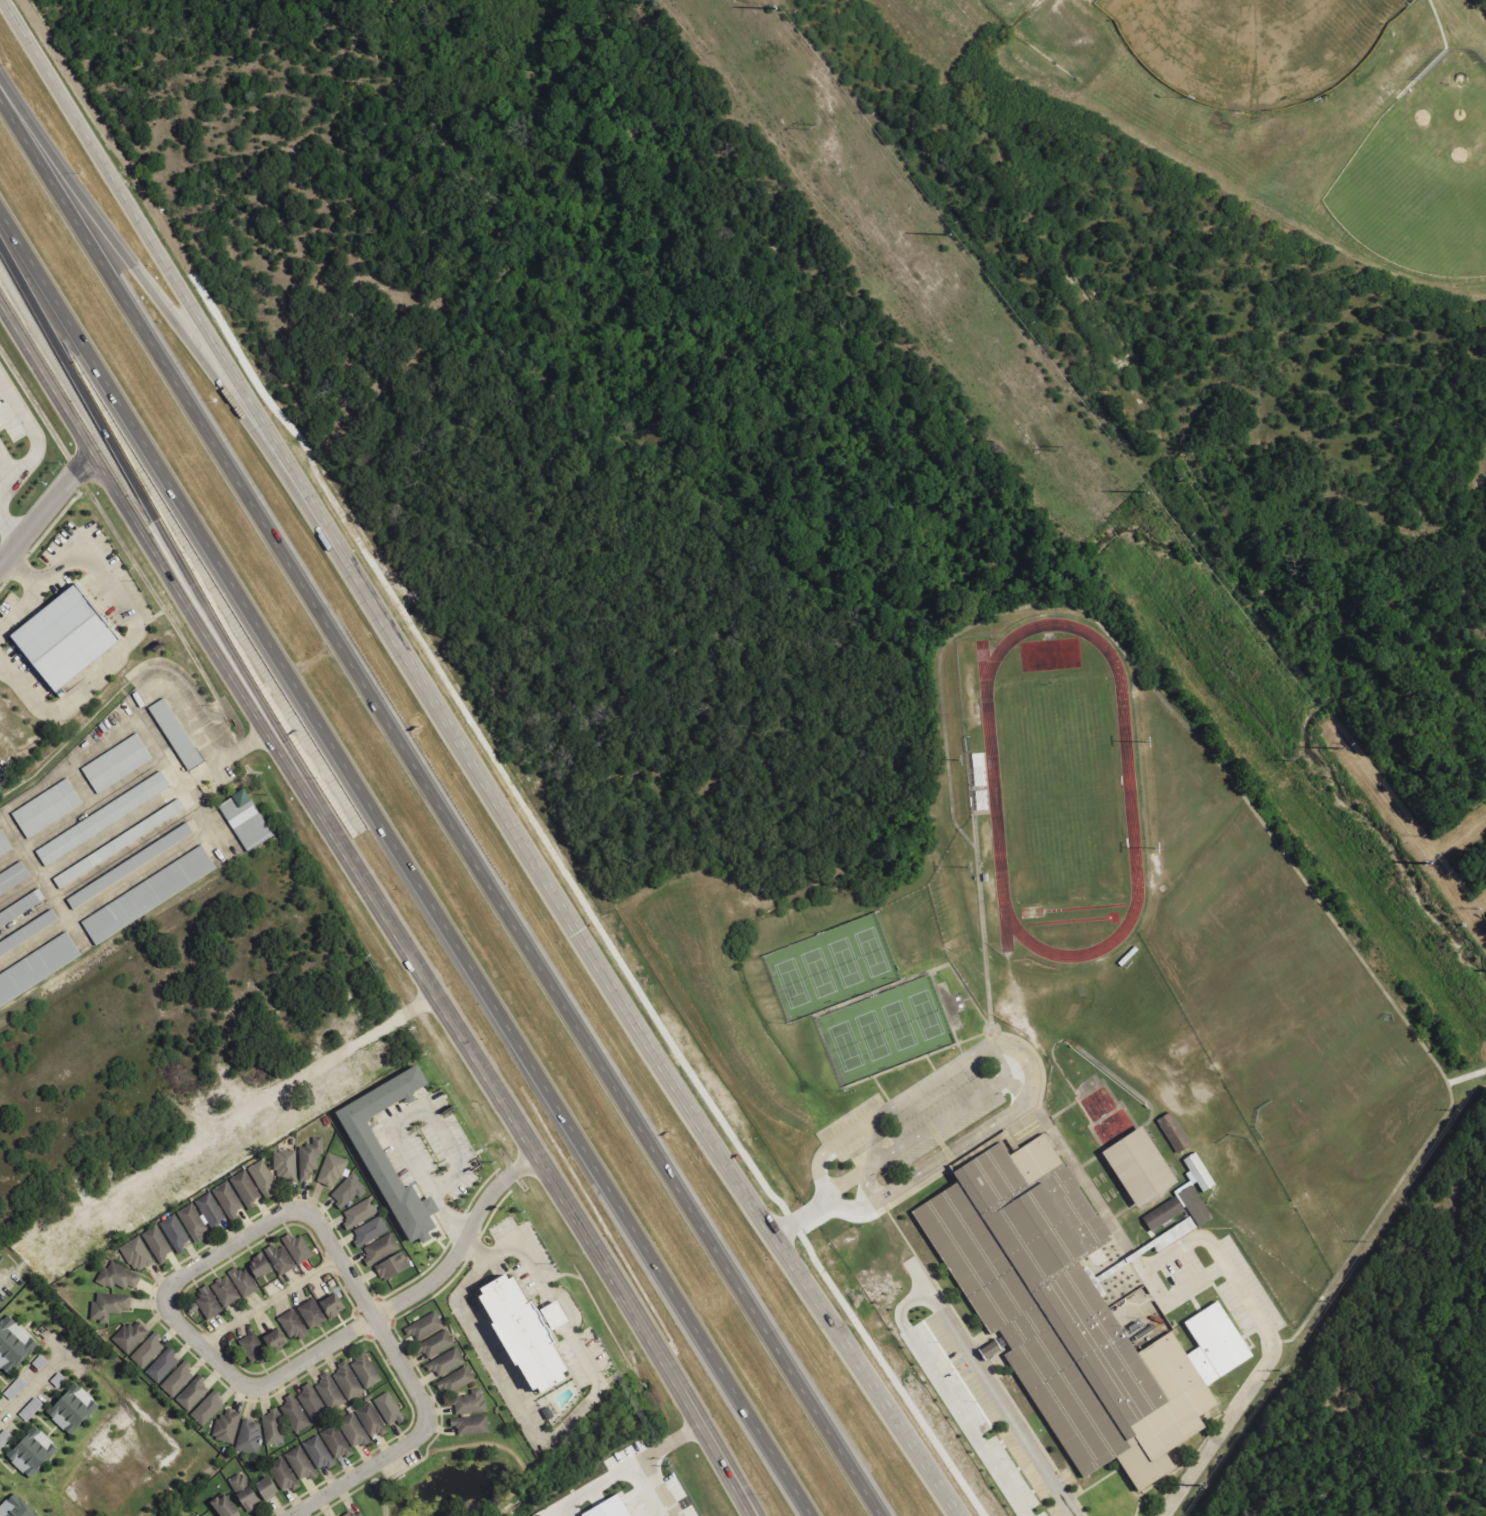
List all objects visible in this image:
park: (1250, 44)
power tower: (819, 127)
park: (1425, 172)
road: (141, 275)
building: (4, 422)
power tower: (1057, 448)
road: (45, 507)
road: (162, 532)
road: (26, 592)
building: (73, 639)
building: (180, 735)
road: (244, 748)
power tower: (1293, 758)
building: (121, 763)
road: (473, 764)
track: (1129, 788)
park: (1062, 789)
road: (439, 805)
building: (51, 809)
building: (107, 819)
building: (250, 820)
building: (6, 845)
building: (134, 866)
road: (408, 868)
building: (15, 881)
building: (151, 895)
road: (377, 906)
building: (40, 970)
park: (858, 1000)
road: (938, 1072)
road: (952, 1106)
road: (948, 1144)
building: (369, 1151)
building: (310, 1157)
building: (285, 1165)
building: (1136, 1166)
building: (332, 1171)
road: (845, 1174)
building: (262, 1177)
road: (865, 1180)
road: (822, 1185)
building: (245, 1187)
building: (348, 1191)
building: (1186, 1191)
building: (227, 1198)
building: (209, 1209)
road: (851, 1209)
building: (359, 1210)
building: (1162, 1214)
building: (192, 1219)
building: (368, 1229)
building: (174, 1231)
road: (813, 1234)
building: (156, 1242)
building: (297, 1247)
building: (380, 1247)
building: (137, 1254)
building: (280, 1259)
road: (1144, 1265)
building: (248, 1275)
building: (118, 1277)
building: (224, 1291)
road: (267, 1299)
building: (208, 1302)
building: (109, 1306)
building: (330, 1306)
building: (1058, 1310)
building: (311, 1314)
building: (291, 1324)
building: (424, 1324)
building: (520, 1331)
building: (129, 1337)
building: (273, 1341)
building: (435, 1342)
building: (14, 1344)
building: (253, 1348)
building: (147, 1349)
building: (445, 1360)
road: (973, 1360)
building: (162, 1363)
building: (365, 1369)
road: (231, 1374)
road: (31, 1378)
building: (178, 1378)
building: (456, 1378)
building: (347, 1380)
building: (329, 1390)
road: (1242, 1391)
building: (192, 1392)
building: (311, 1400)
building: (470, 1403)
building: (74, 1404)
building: (207, 1406)
building: (388, 1407)
building: (294, 1412)
building: (371, 1419)
building: (470, 1425)
building: (226, 1426)
building: (272, 1427)
building: (354, 1430)
building: (249, 1436)
building: (336, 1440)
road: (412, 1440)
building: (33, 1450)
building: (317, 1451)
building: (299, 1462)
building: (284, 1474)
building: (0, 1486)
building: (251, 1490)
building: (16, 1507)
building: (223, 1507)
building: (606, 1508)
road: (751, 1511)
building: (356, 1513)

